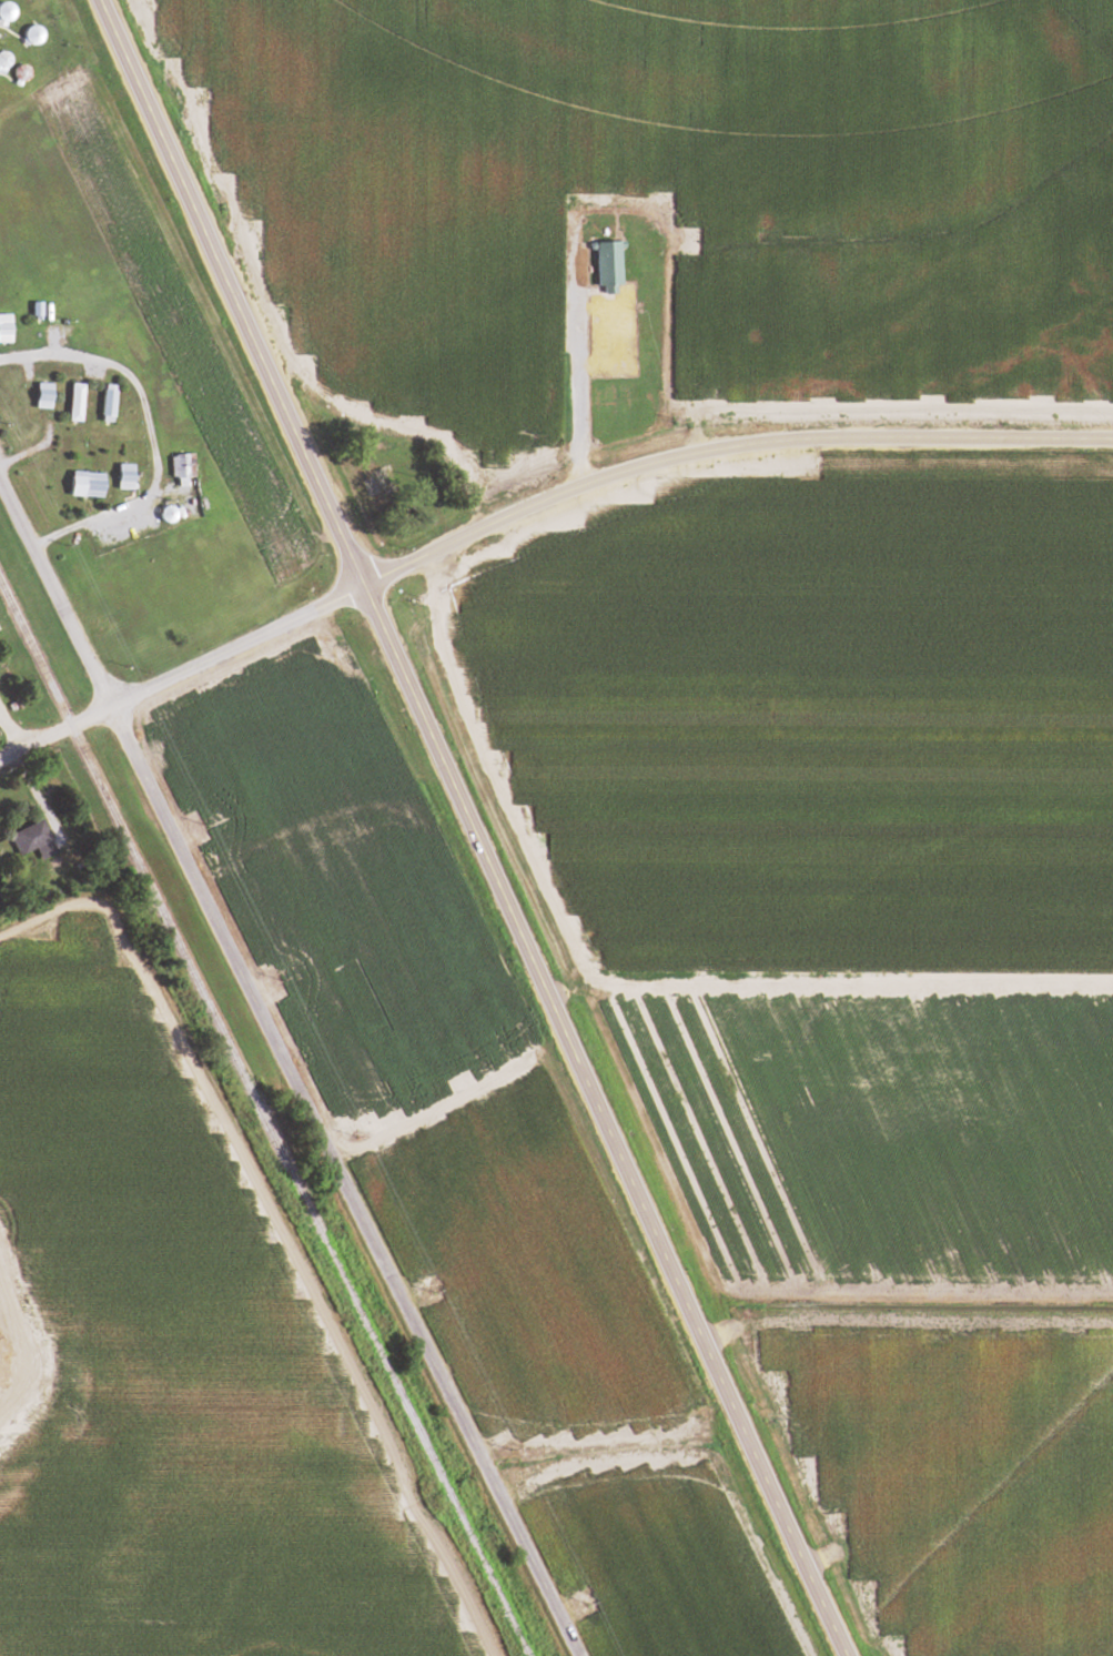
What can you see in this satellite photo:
building: (608, 264)
road: (230, 292)
building: (77, 402)
building: (108, 404)
road: (722, 446)
building: (119, 475)
building: (88, 484)
road: (190, 666)
road: (10, 725)
road: (10, 748)
building: (31, 837)
road: (287, 1073)
railway: (264, 1120)
road: (599, 1120)
road: (18, 1381)

